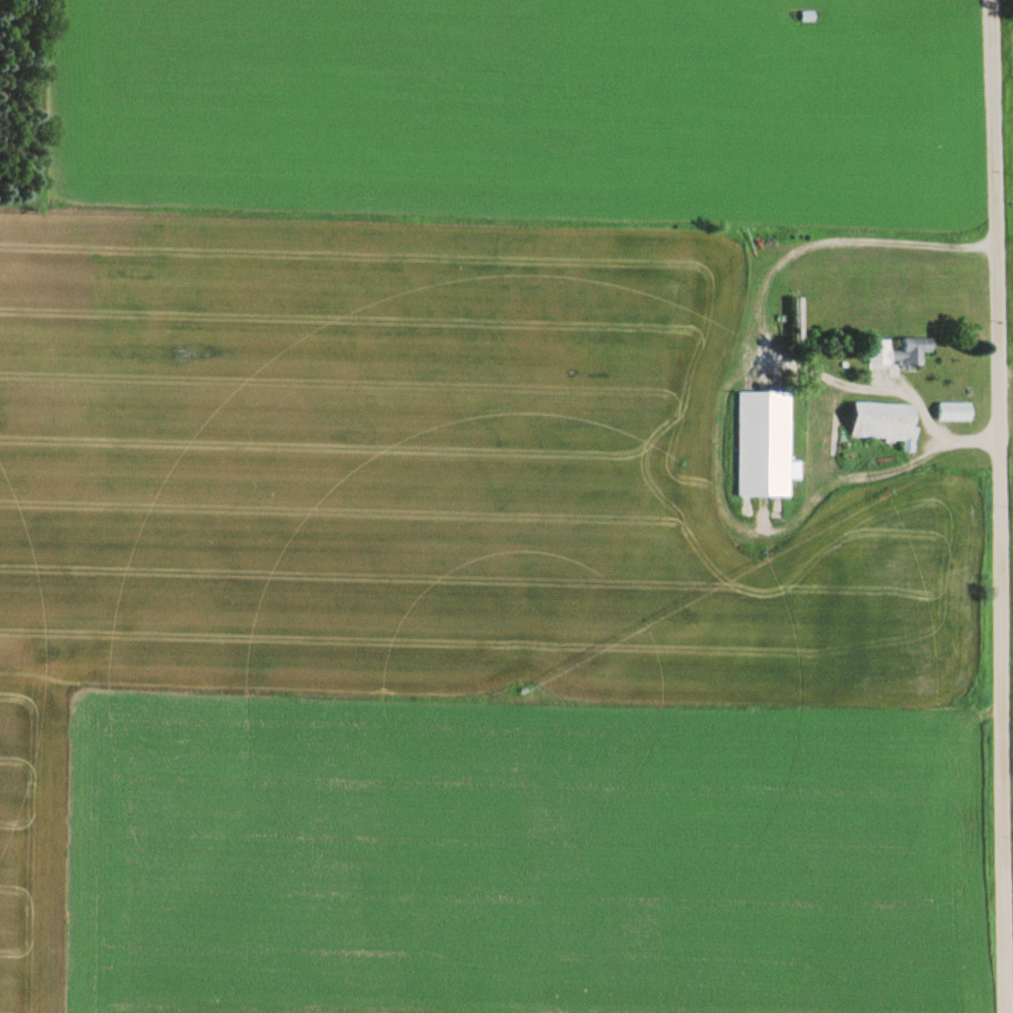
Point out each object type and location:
building: (806, 16)
building: (911, 351)
building: (954, 411)
building: (885, 422)
building: (763, 444)
road: (997, 506)

